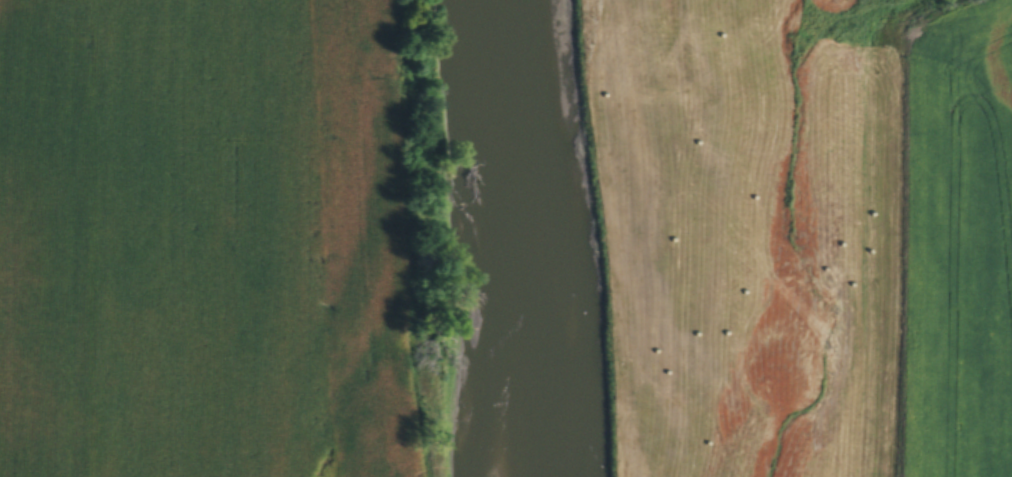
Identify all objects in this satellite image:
river: (513, 238)
crop: (204, 243)
crop: (960, 248)

